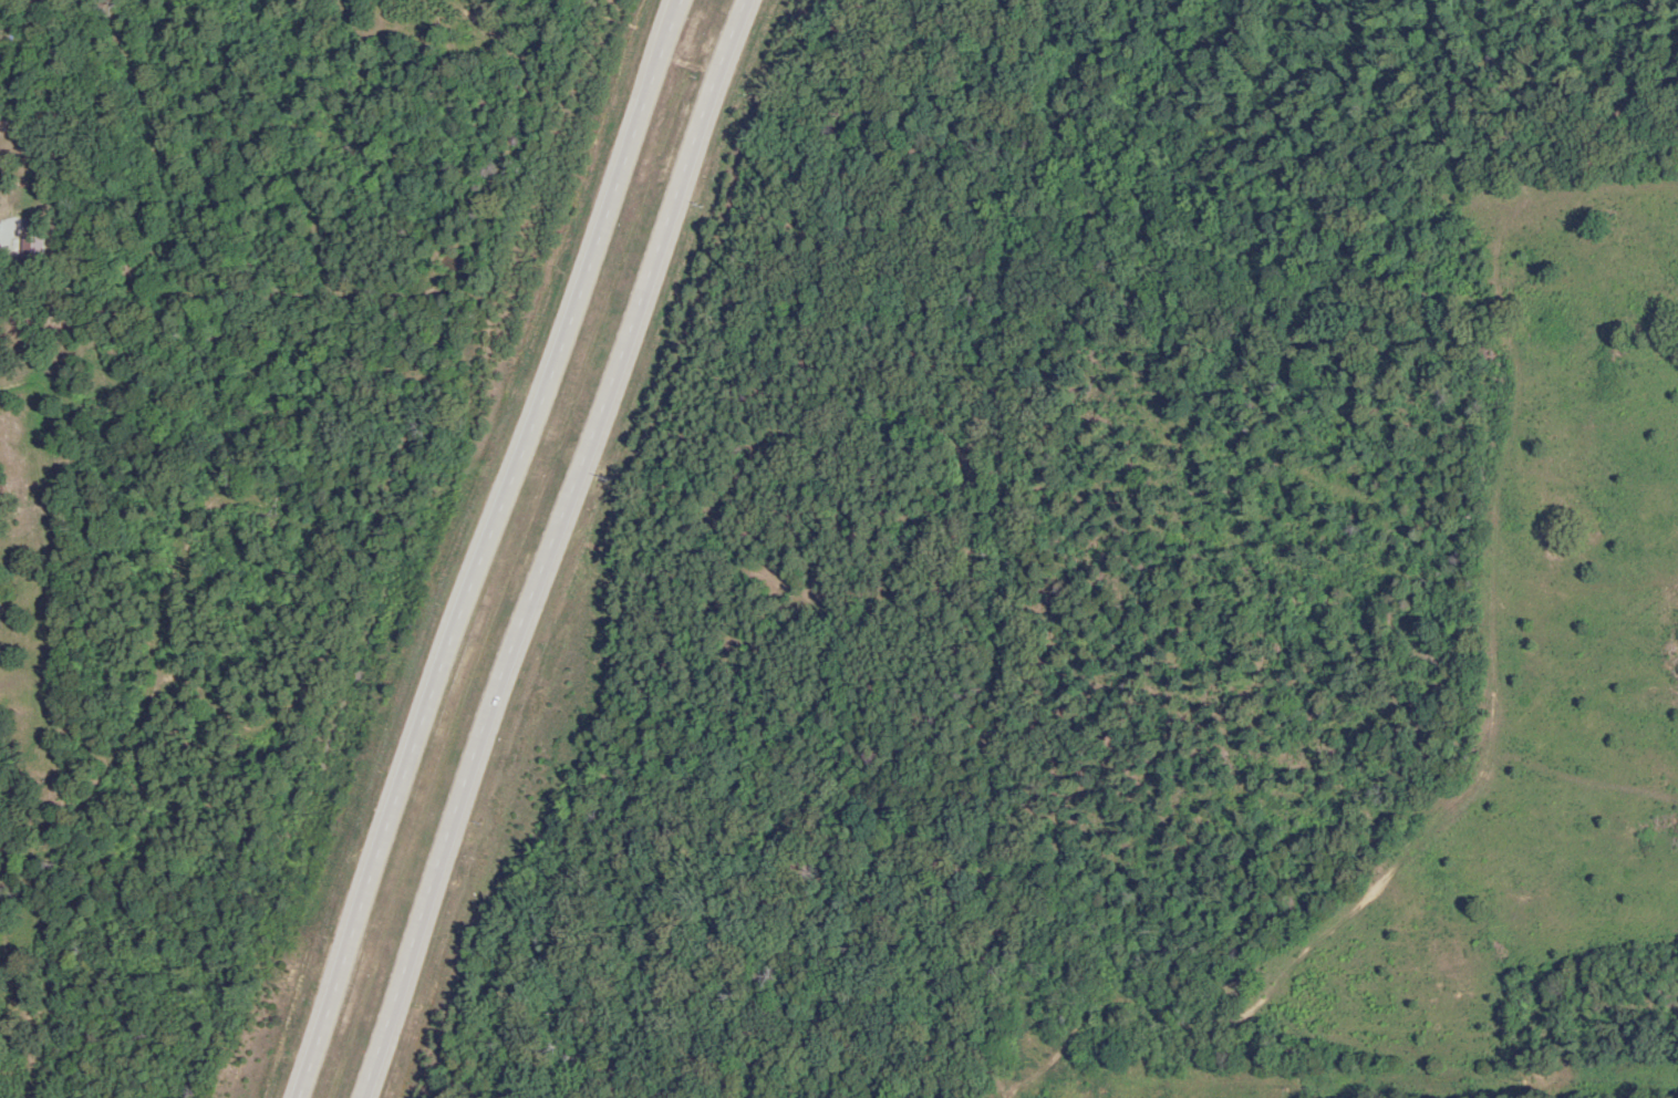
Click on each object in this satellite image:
road: (487, 549)
road: (558, 550)
road: (1001, 712)
road: (997, 1089)

